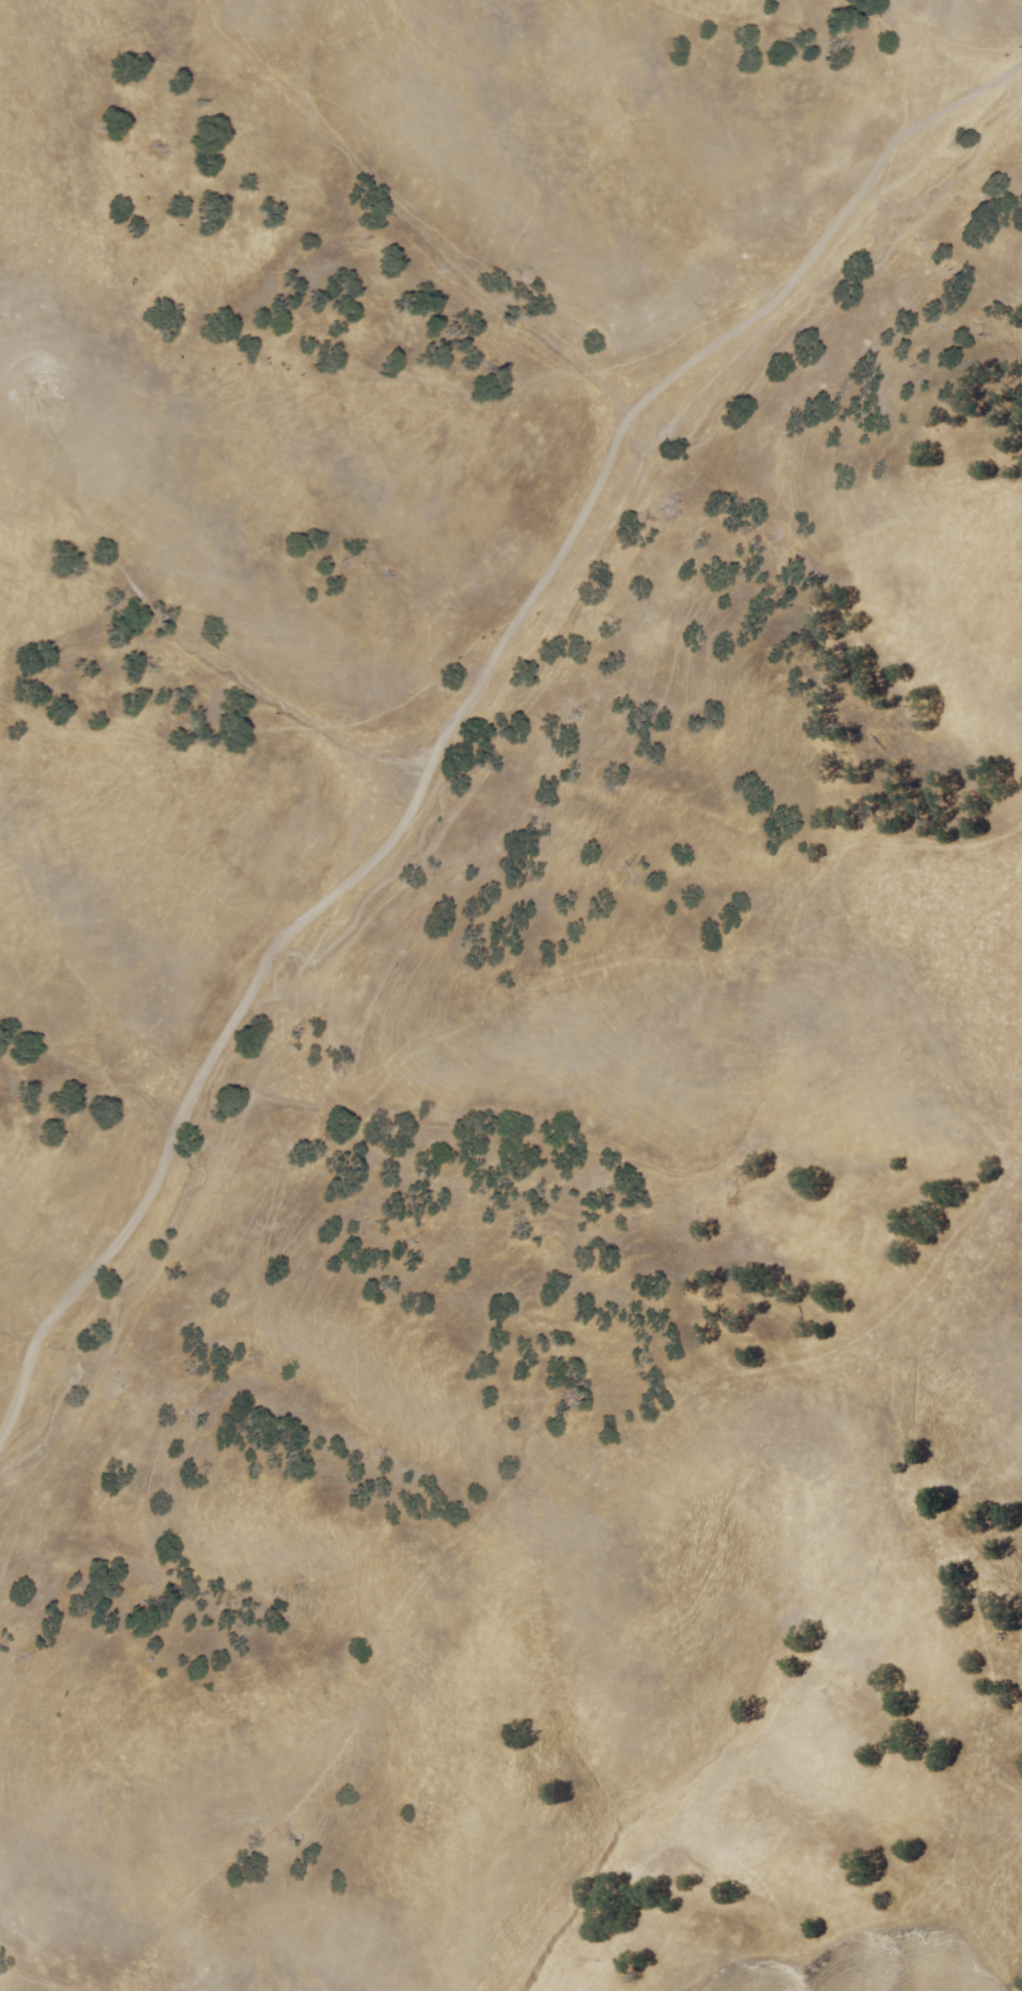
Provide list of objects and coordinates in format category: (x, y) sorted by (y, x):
road: (978, 59)
road: (462, 712)
road: (107, 1955)

